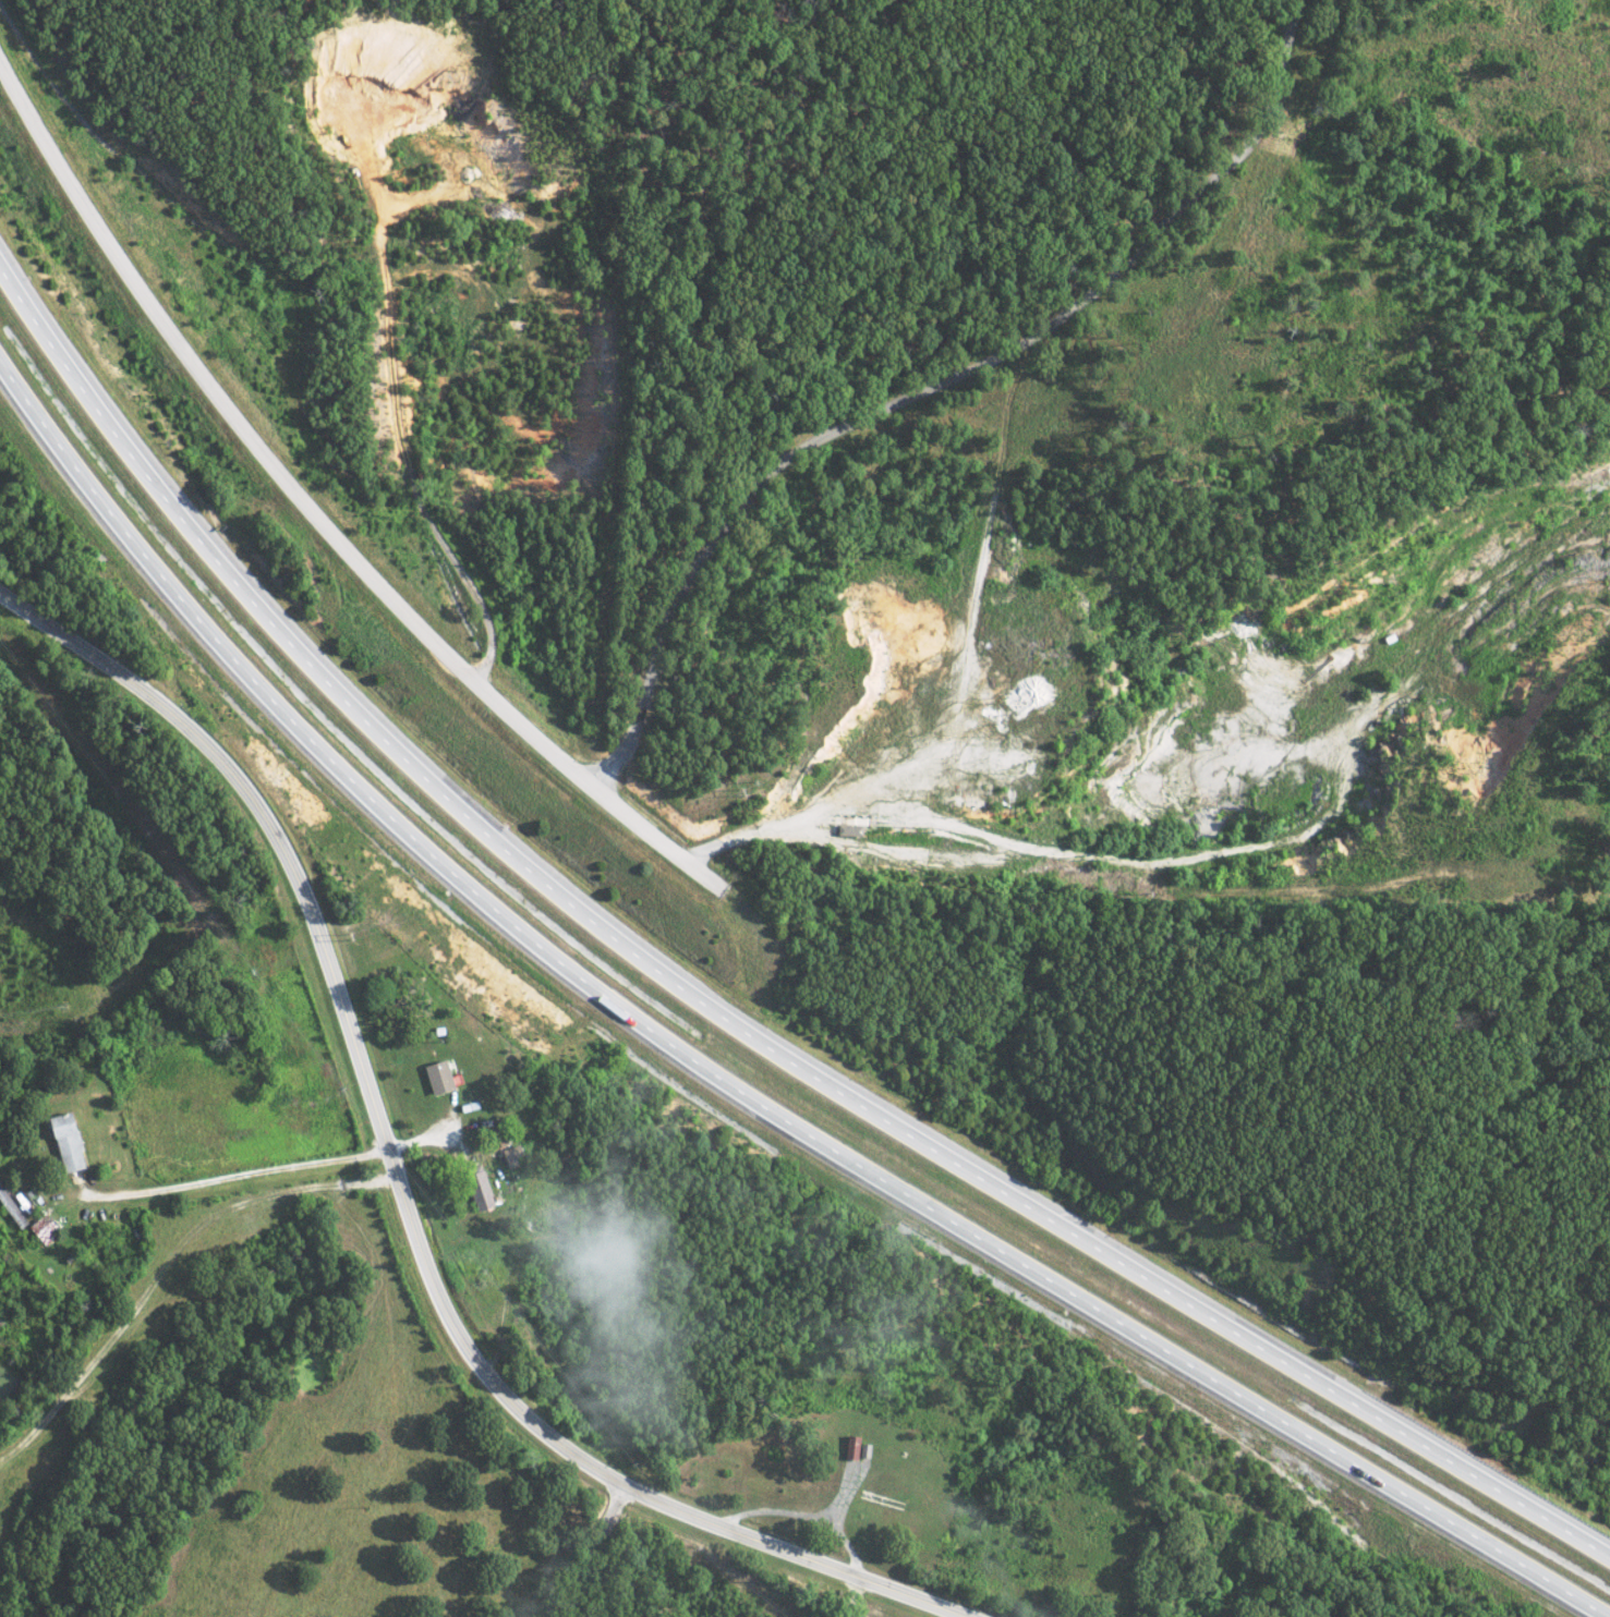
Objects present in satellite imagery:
quarry: (470, 312)
road: (392, 406)
road: (858, 420)
road: (263, 466)
road: (963, 696)
quarry: (1179, 708)
road: (799, 831)
road: (1268, 840)
road: (717, 1017)
building: (434, 1078)
road: (729, 1083)
building: (62, 1143)
building: (508, 1156)
road: (241, 1174)
road: (401, 1188)
building: (474, 1188)
building: (10, 1212)
building: (39, 1231)
building: (848, 1446)
road: (588, 1547)

